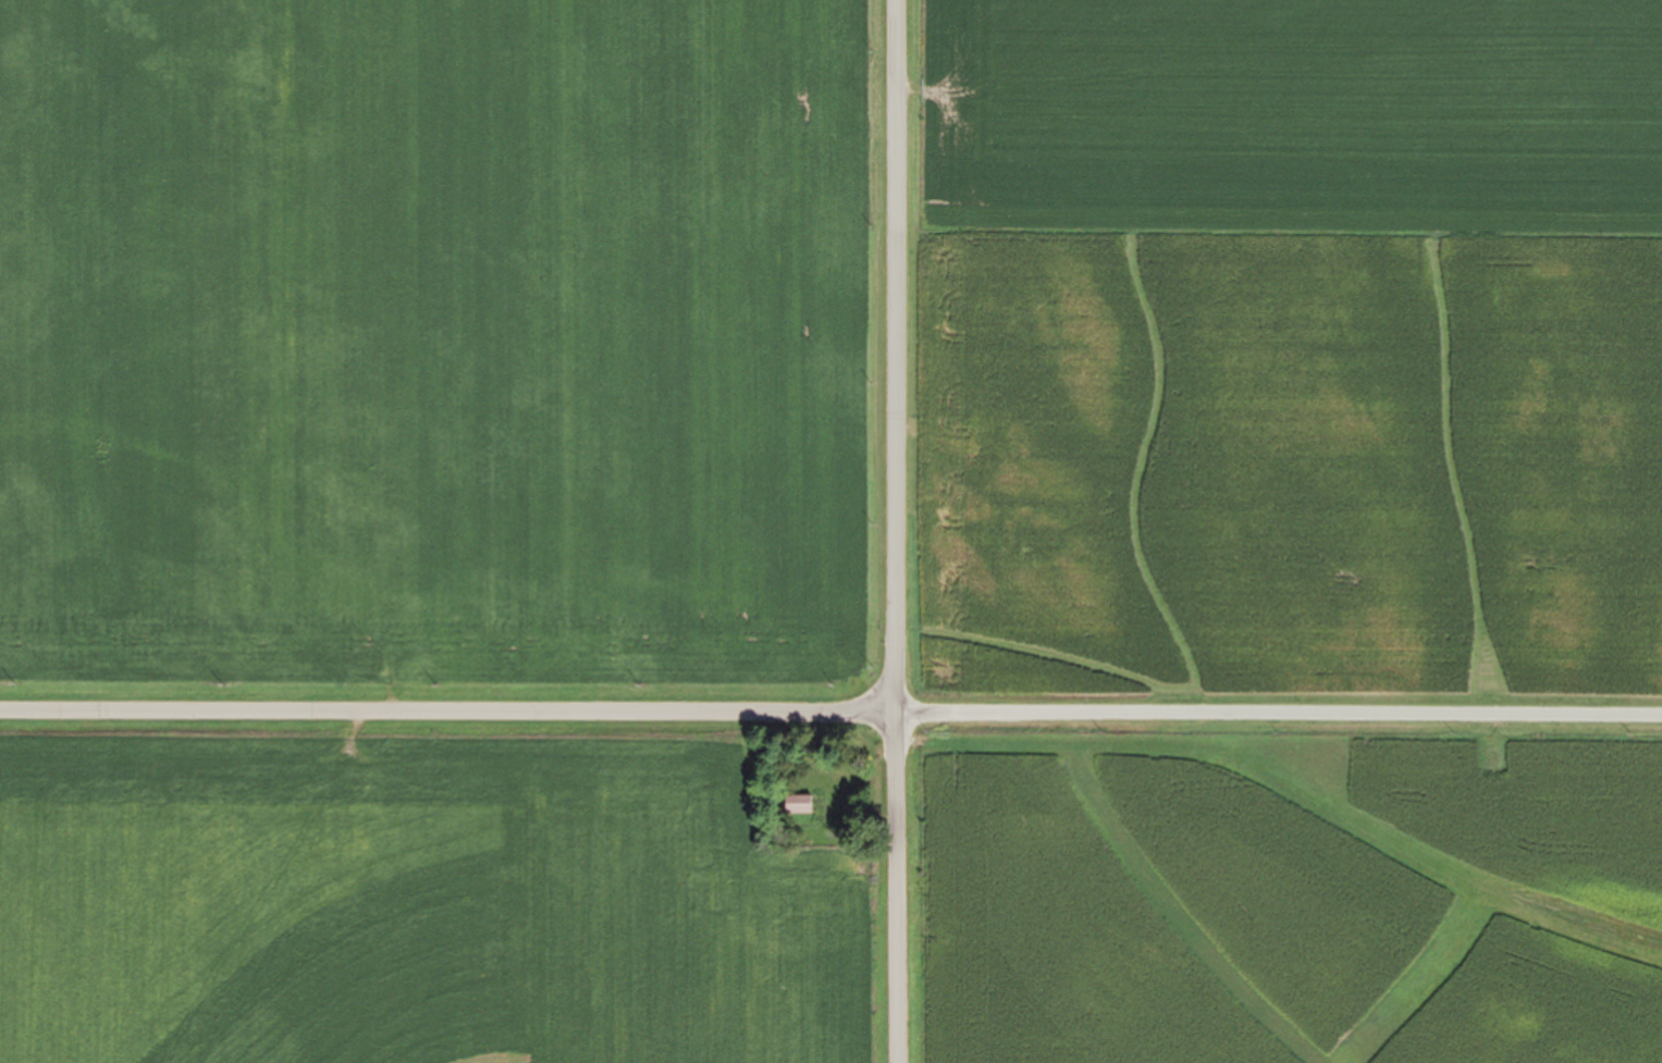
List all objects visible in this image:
road: (883, 531)
road: (441, 707)
road: (1271, 713)
building: (800, 805)

